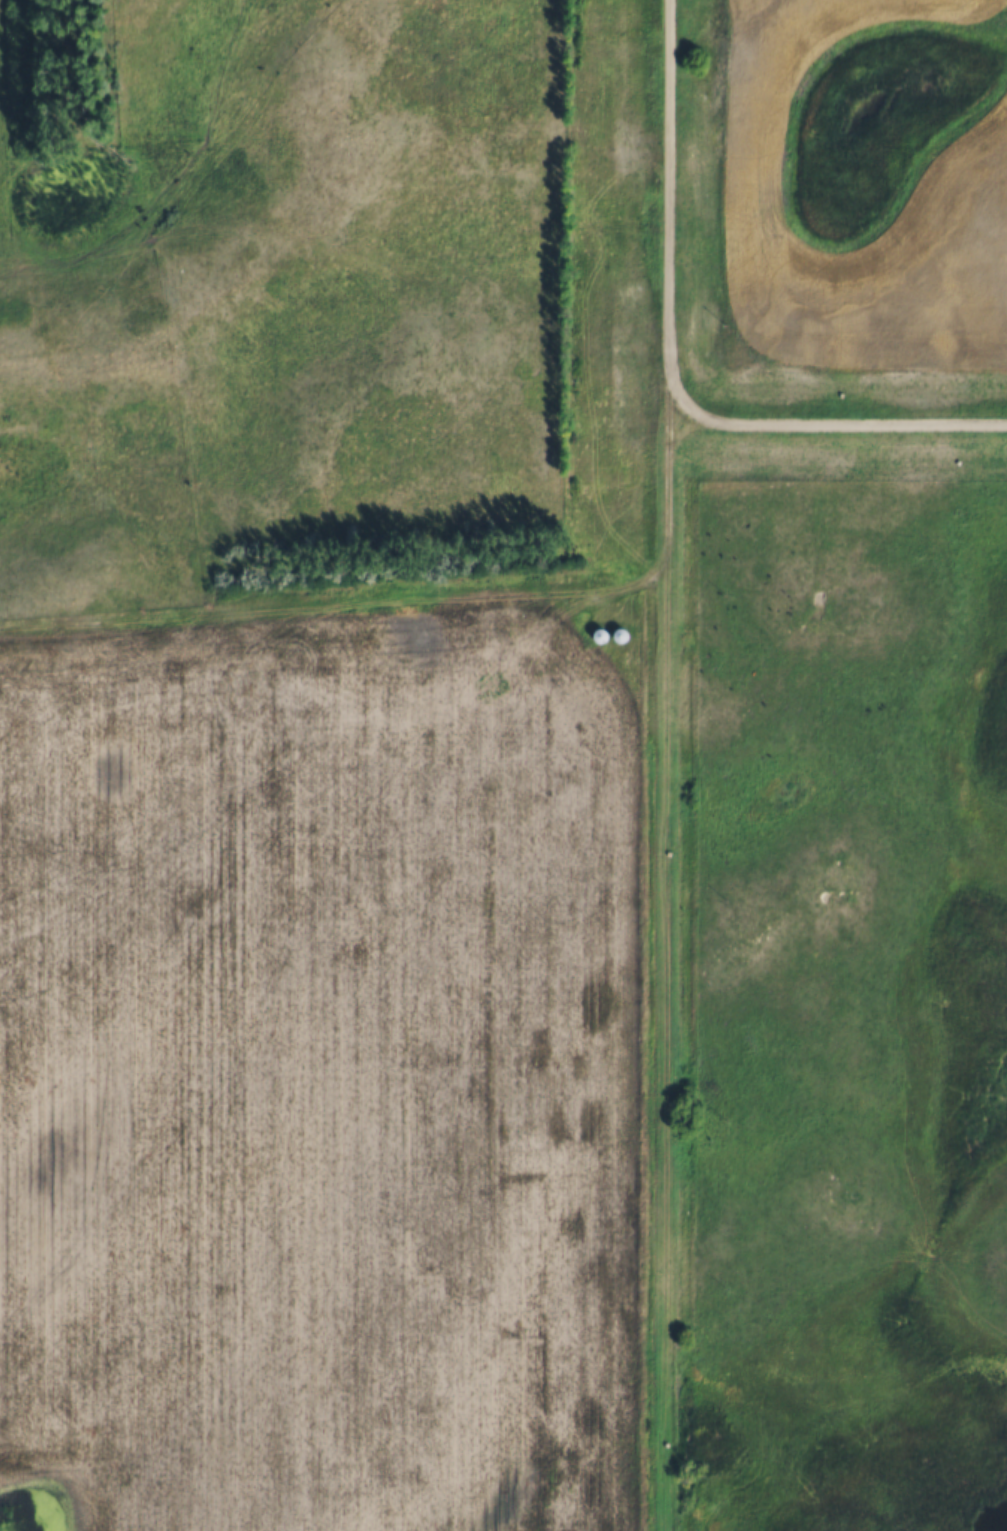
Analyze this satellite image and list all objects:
road: (671, 209)
road: (838, 420)
road: (337, 599)
building: (619, 632)
silo: (619, 632)
building: (599, 633)
silo: (599, 633)
road: (663, 974)

